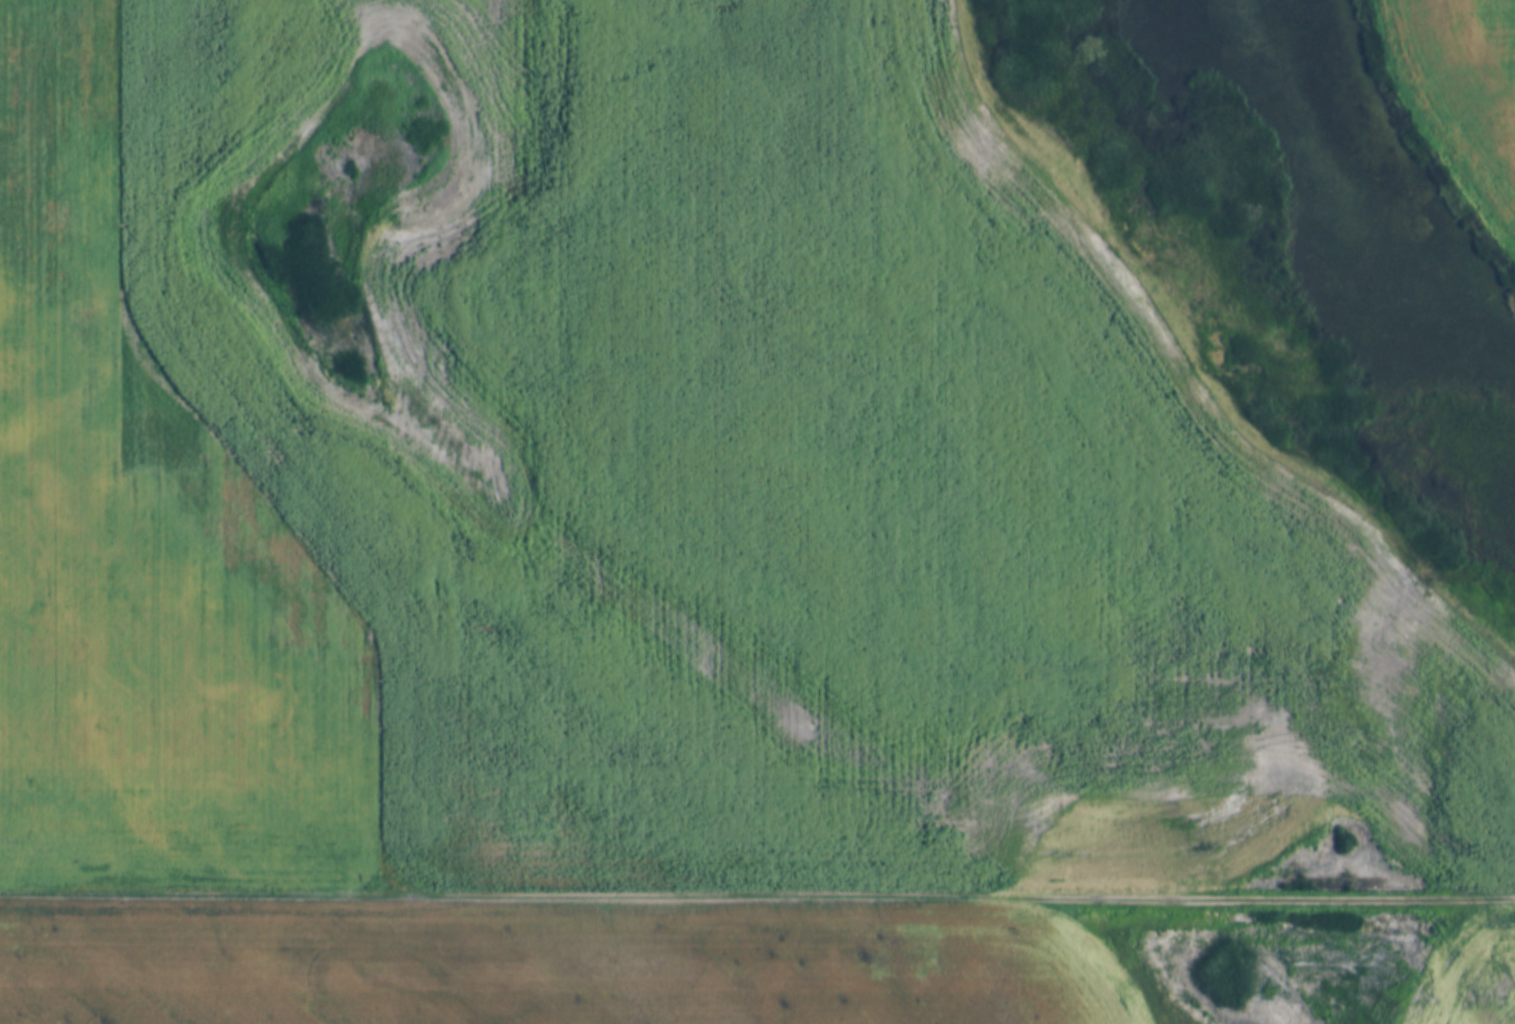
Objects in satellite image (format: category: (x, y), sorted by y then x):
crop: (1476, 66)
road: (757, 894)

